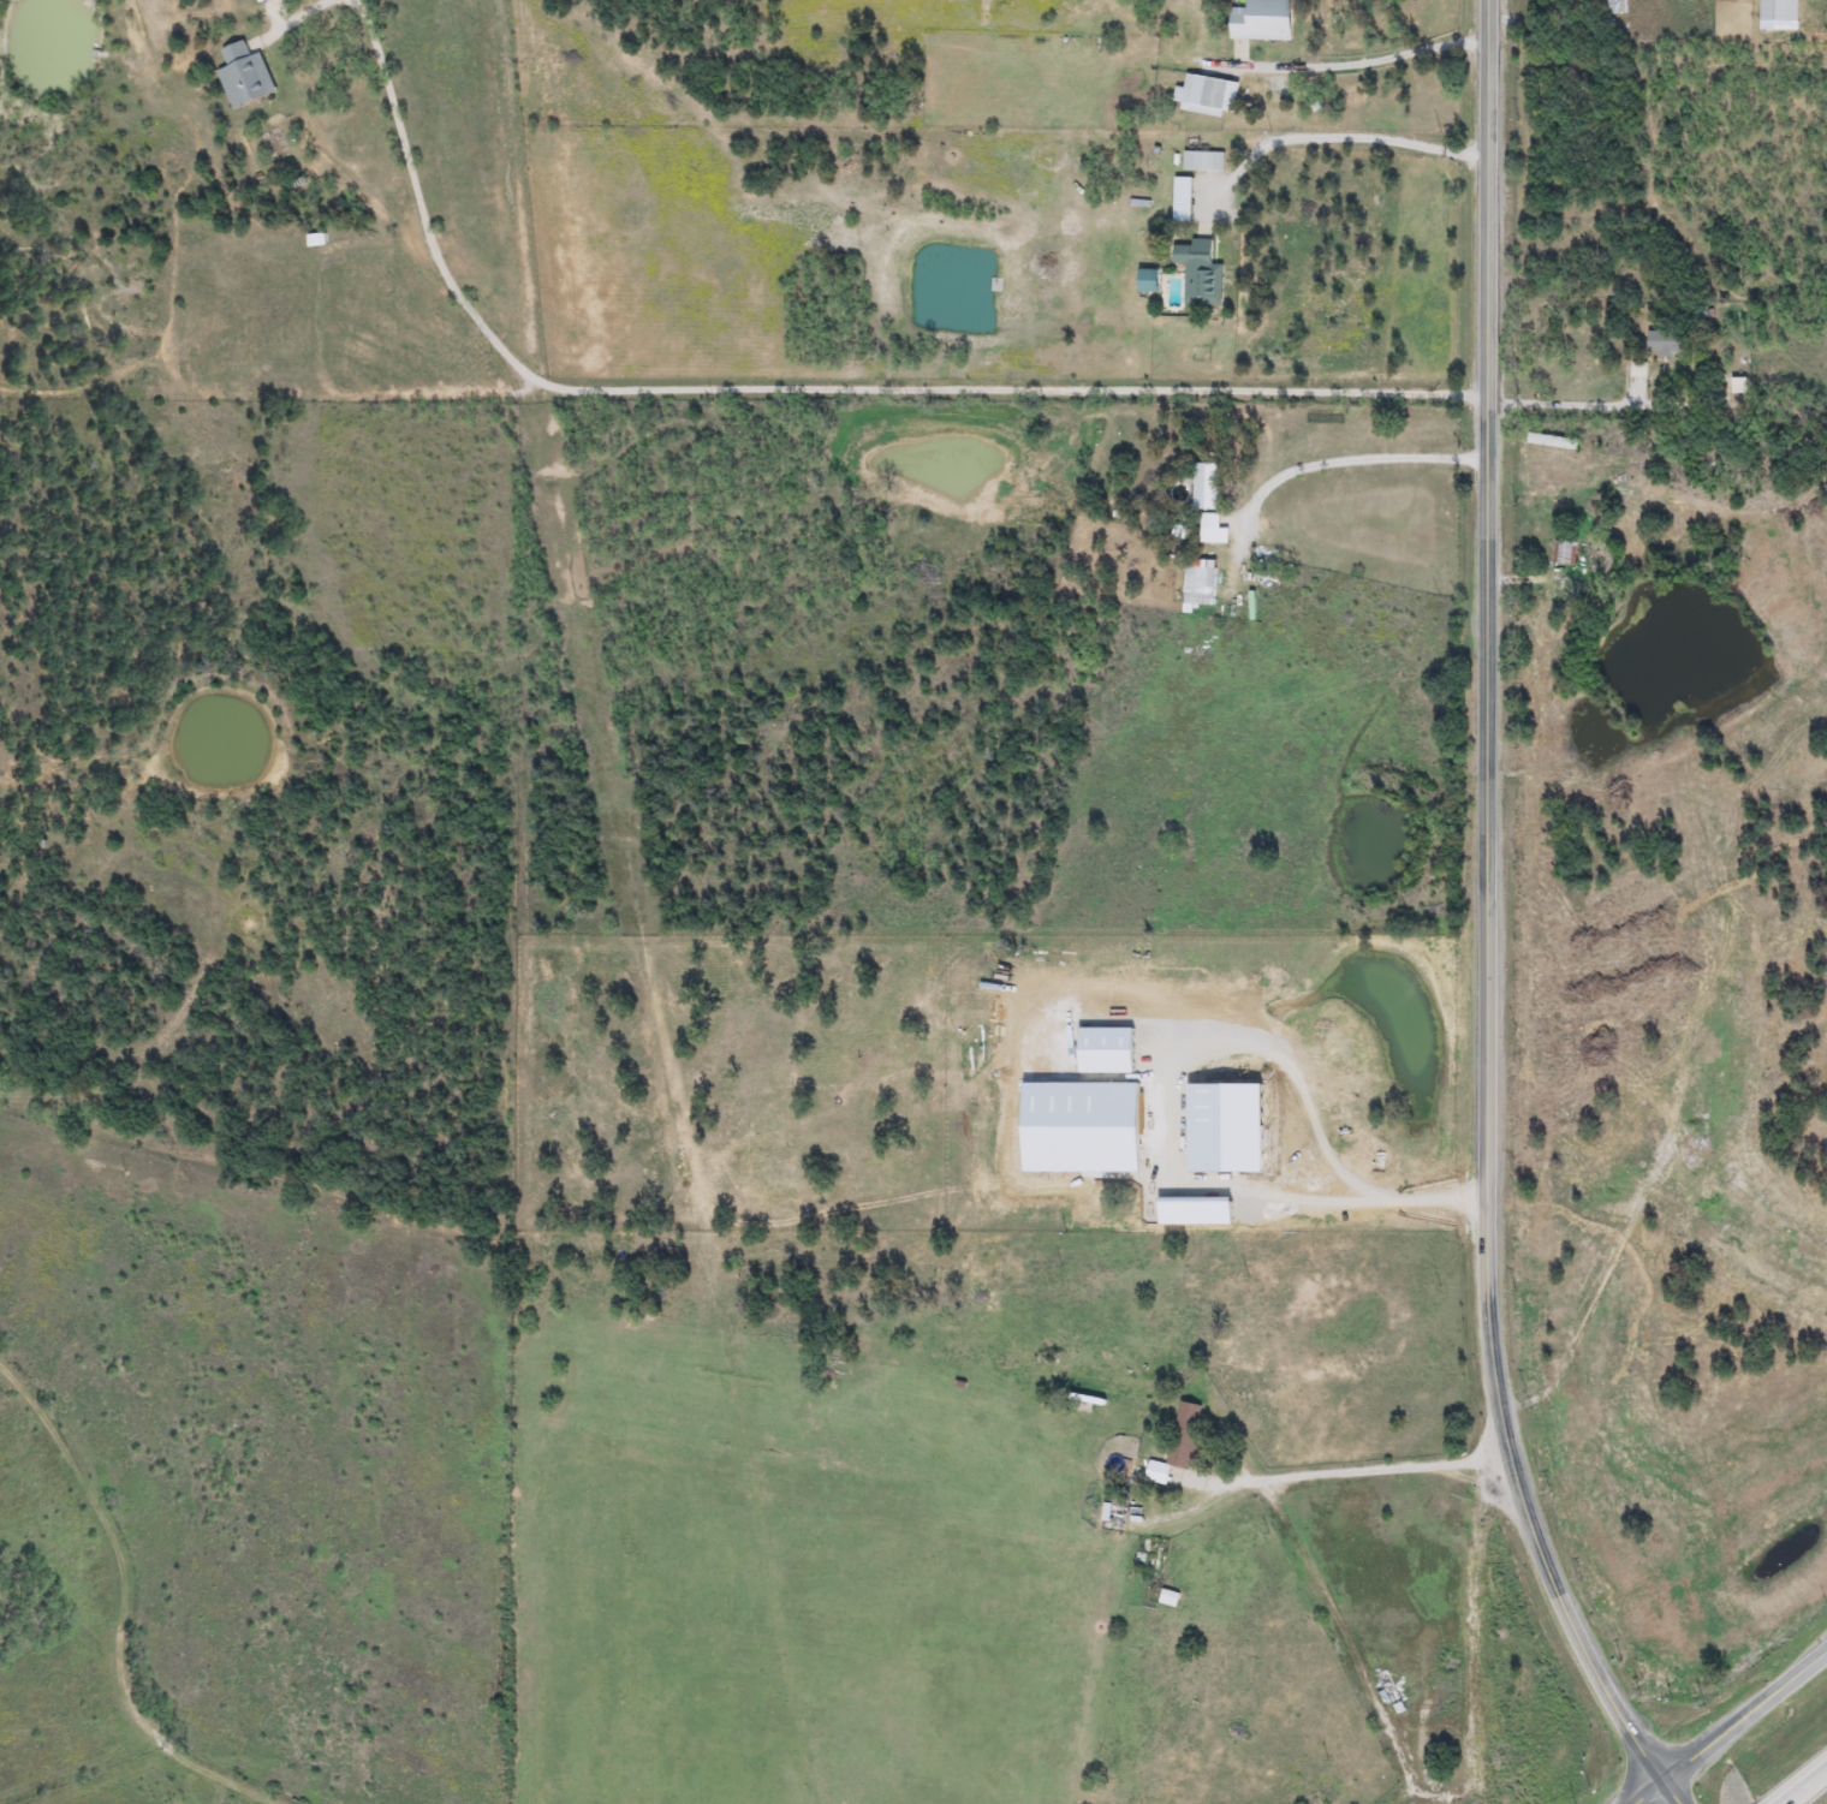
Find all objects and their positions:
building: (260, 1)
building: (1614, 6)
road: (309, 12)
building: (1261, 20)
road: (1363, 61)
building: (243, 76)
building: (1207, 95)
road: (1346, 138)
building: (1202, 161)
building: (1198, 273)
building: (1145, 281)
building: (1664, 343)
road: (793, 388)
road: (1501, 403)
road: (1567, 404)
building: (1552, 442)
road: (1351, 460)
building: (1204, 487)
building: (1564, 552)
building: (1198, 587)
road: (1488, 922)
road: (1280, 1199)
building: (1173, 1433)
road: (1335, 1469)
road: (1469, 1626)
road: (1346, 1642)
road: (1726, 1722)
road: (1797, 1781)
road: (1448, 1794)
road: (1405, 1797)

